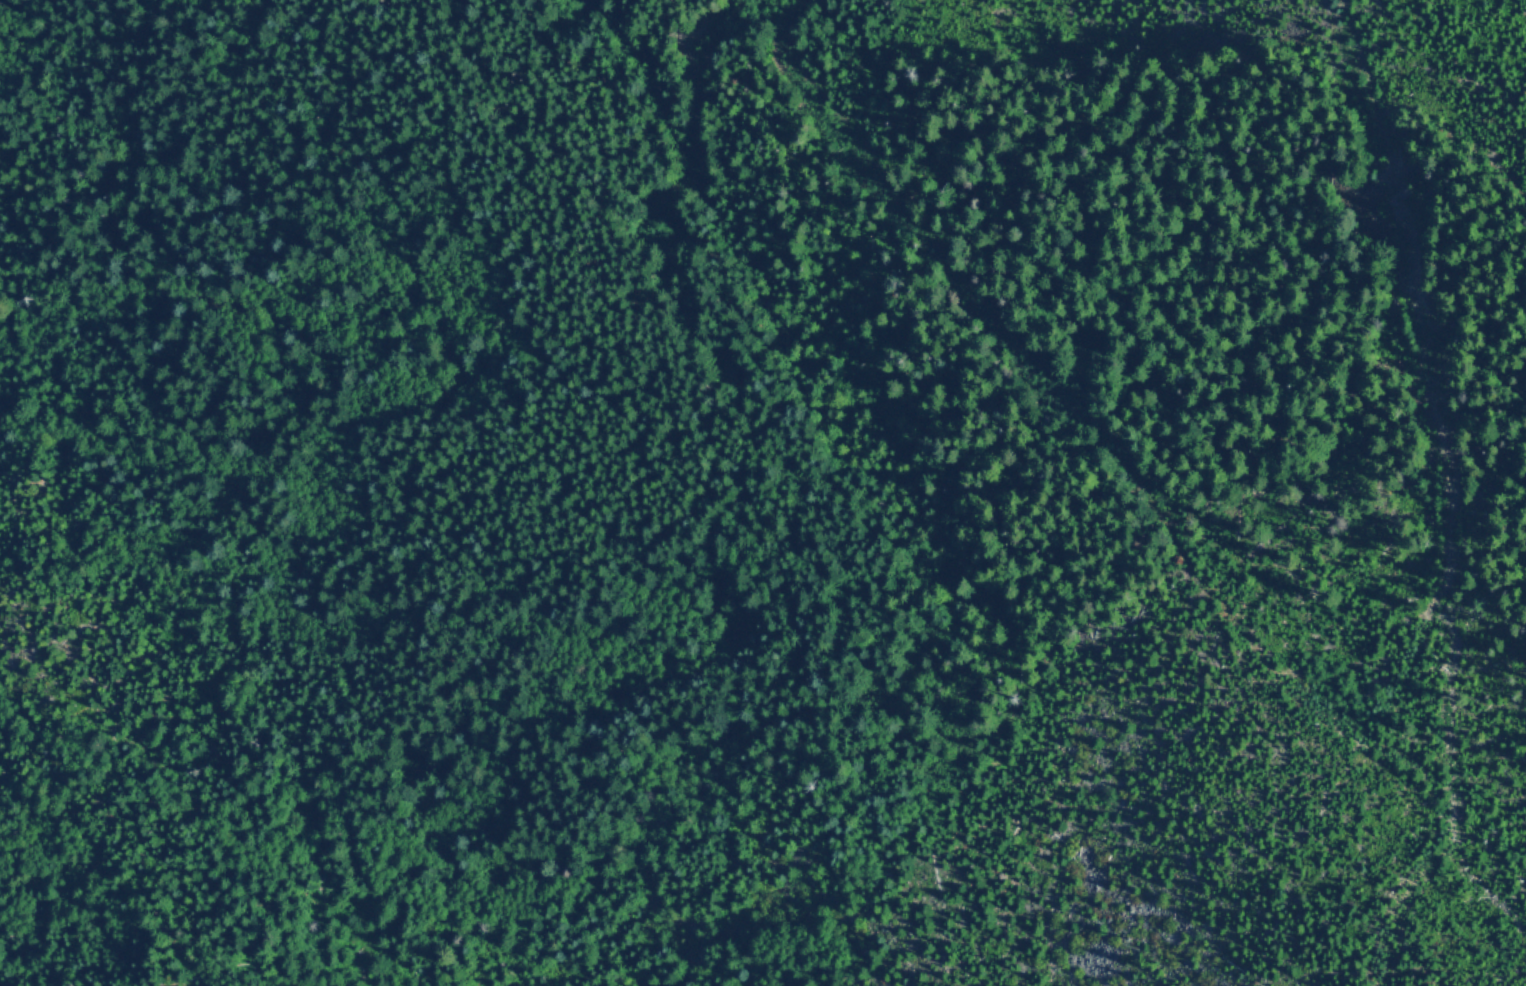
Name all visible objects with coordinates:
road: (705, 40)

